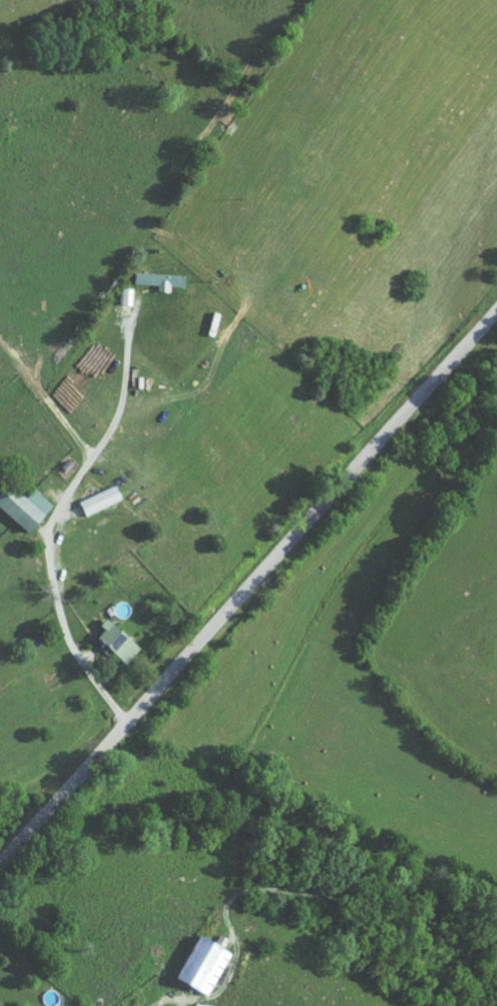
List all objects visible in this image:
building: (100, 500)
building: (25, 507)
road: (53, 520)
road: (248, 590)
building: (118, 642)
building: (204, 964)

